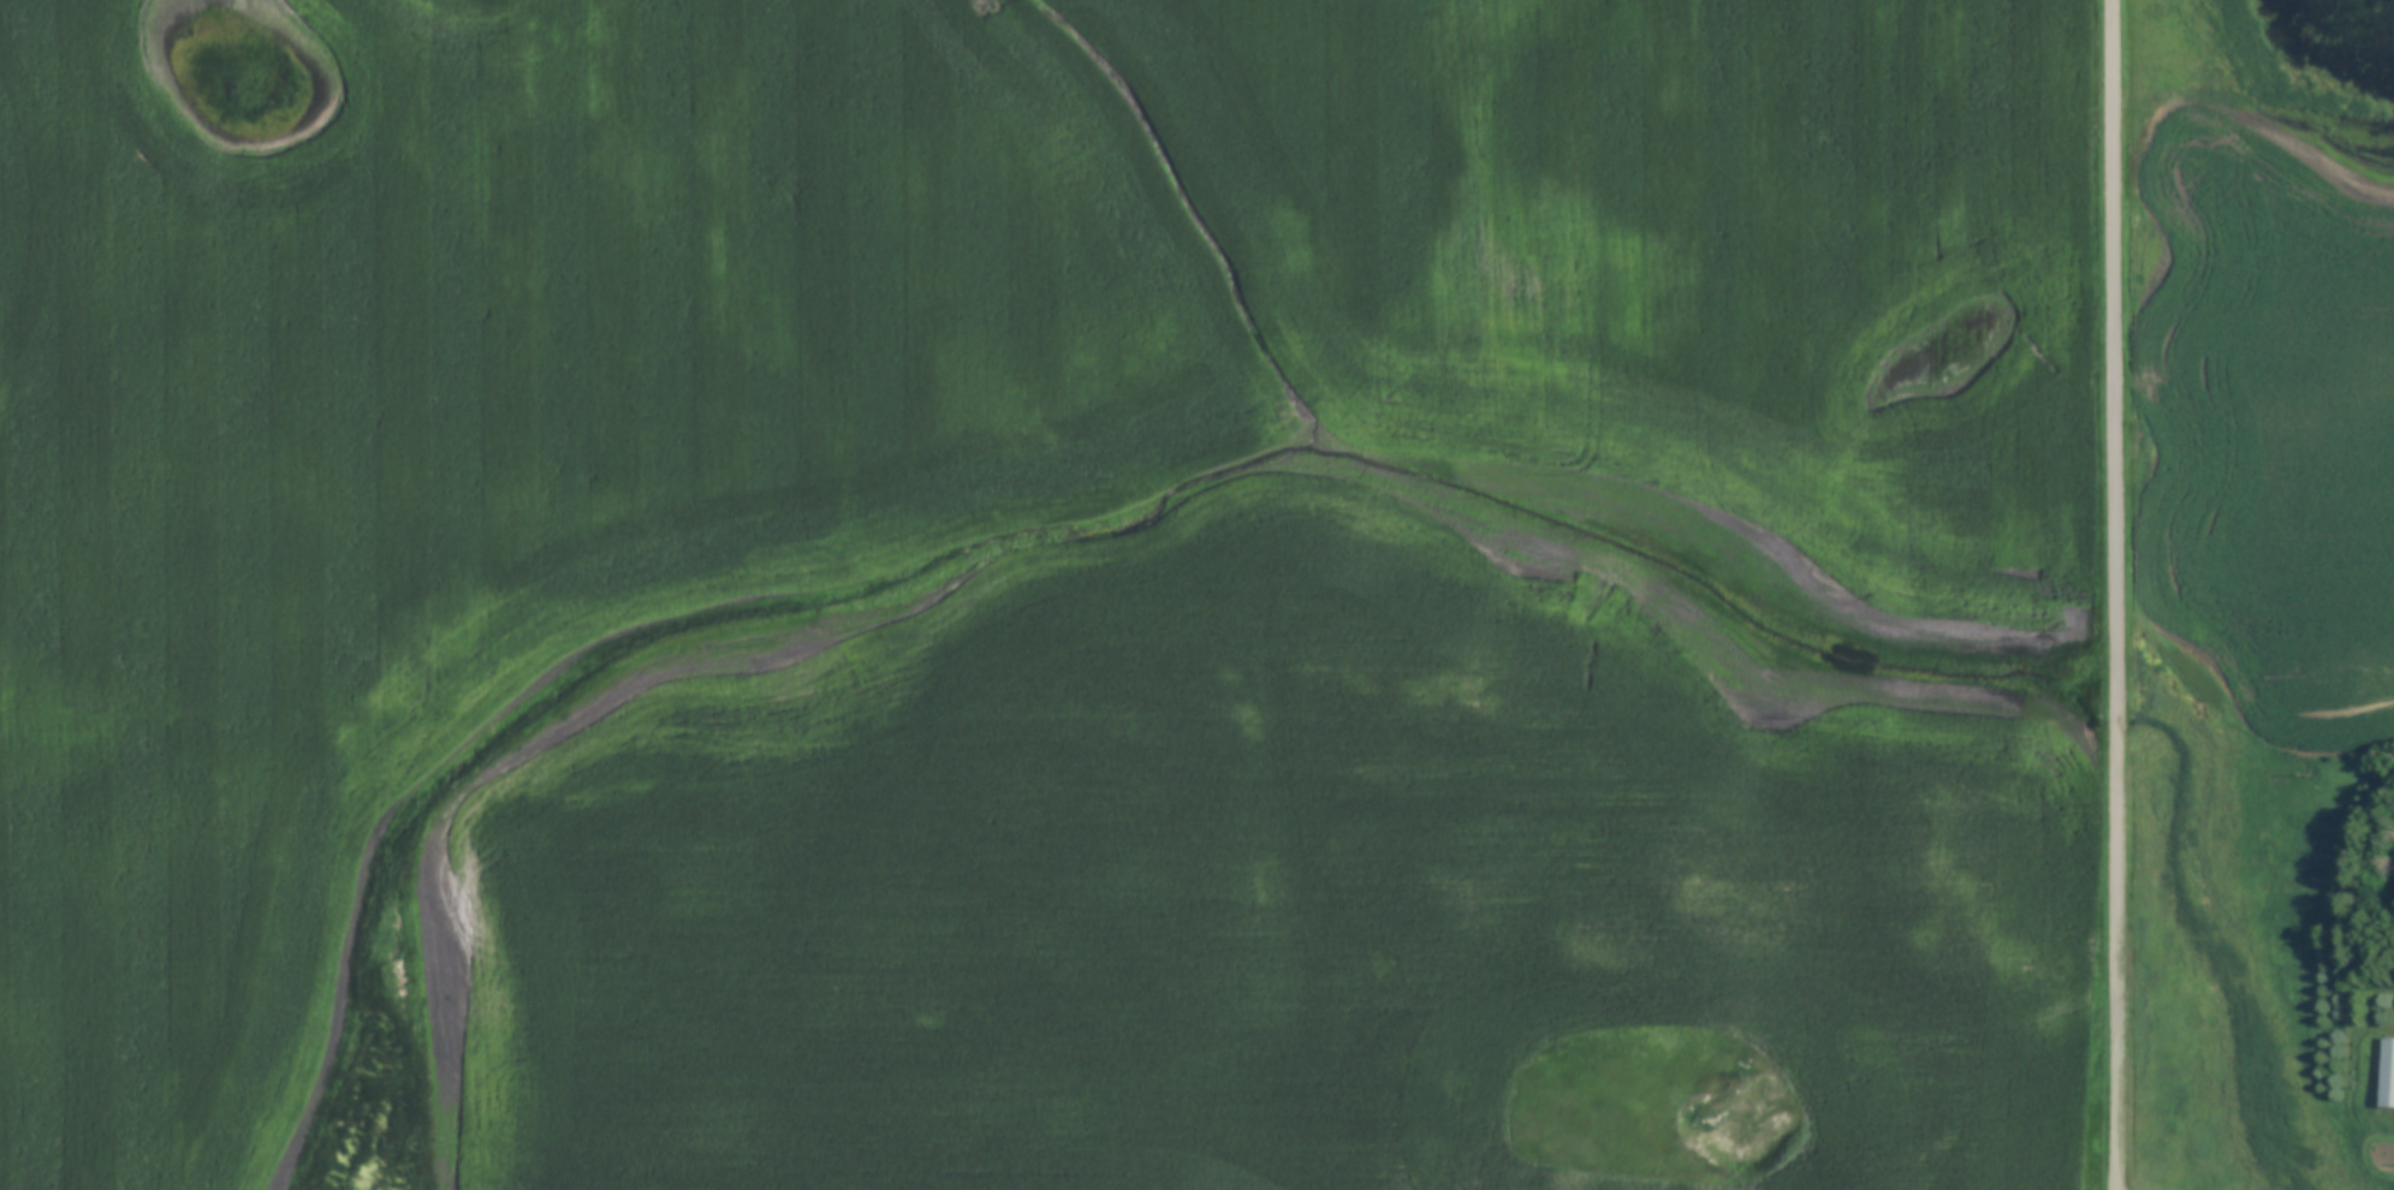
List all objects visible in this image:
road: (2121, 594)
building: (2389, 1071)

